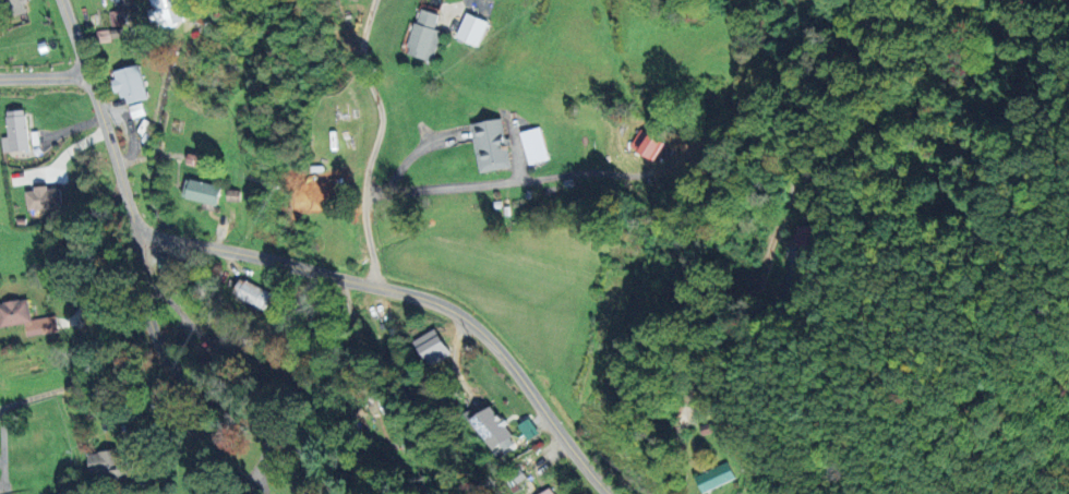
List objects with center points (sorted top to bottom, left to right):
road: (468, 1)
building: (11, 8)
building: (170, 12)
building: (470, 31)
building: (108, 35)
building: (423, 37)
road: (44, 79)
building: (129, 84)
road: (862, 93)
building: (135, 109)
building: (14, 131)
road: (375, 141)
building: (647, 144)
building: (490, 145)
building: (533, 145)
building: (194, 160)
road: (509, 181)
building: (200, 191)
building: (44, 197)
building: (806, 238)
road: (142, 285)
building: (251, 293)
road: (415, 294)
road: (167, 300)
building: (25, 317)
road: (726, 335)
building: (433, 347)
building: (216, 351)
road: (99, 377)
building: (528, 429)
building: (494, 430)
building: (397, 432)
building: (106, 465)
road: (261, 465)
building: (713, 477)
building: (548, 492)

